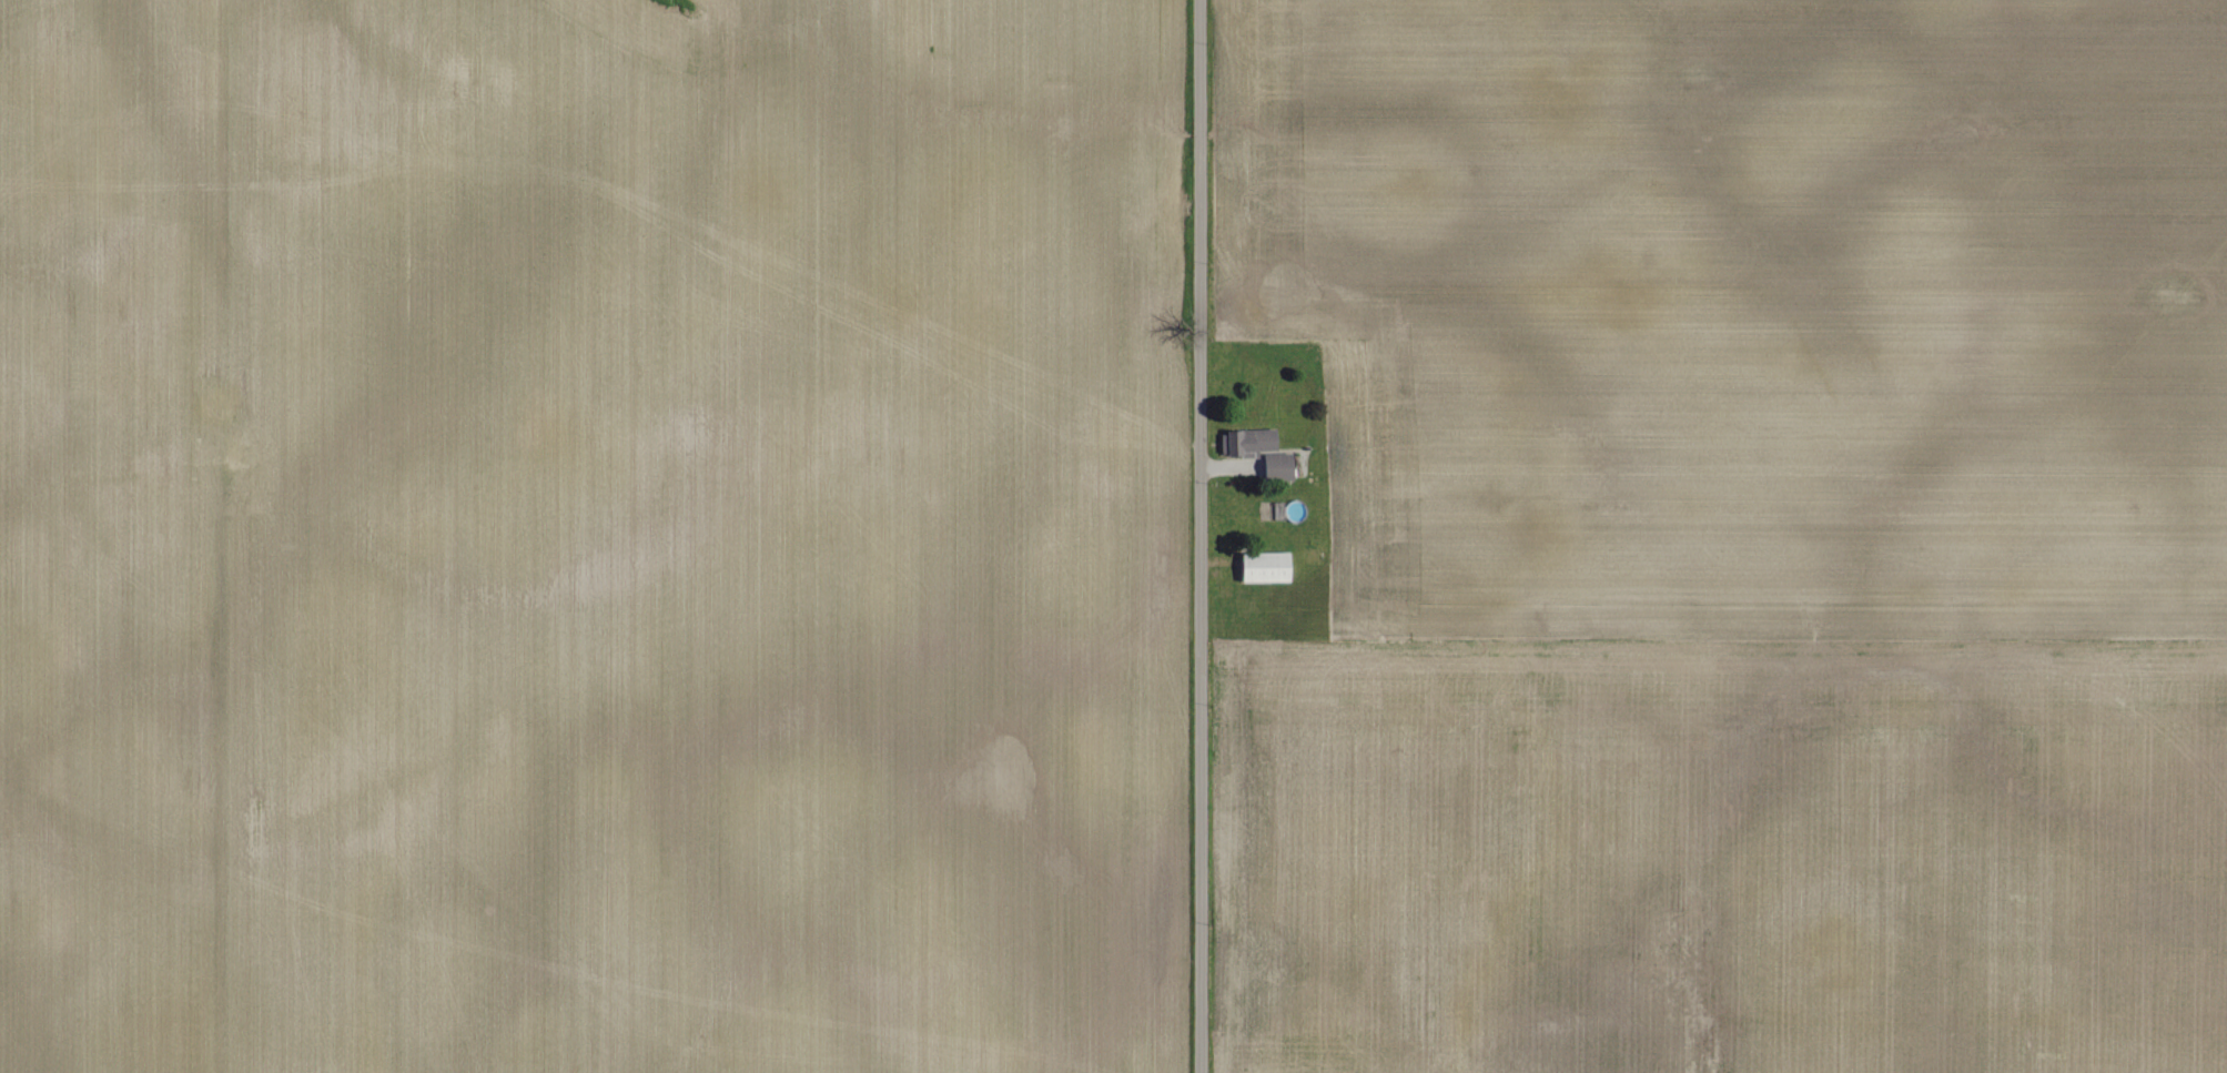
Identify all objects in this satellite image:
road: (1198, 536)
building: (1268, 568)

